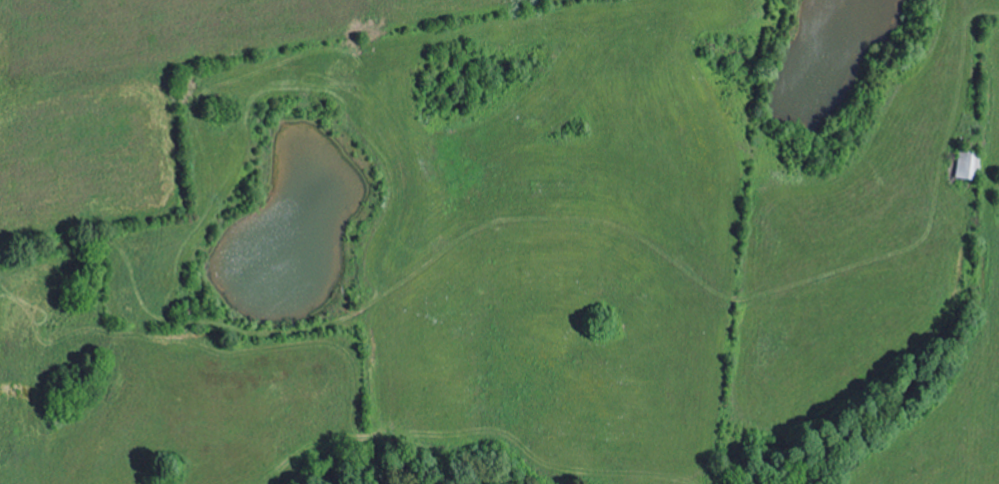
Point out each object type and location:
building: (965, 164)
road: (338, 332)

